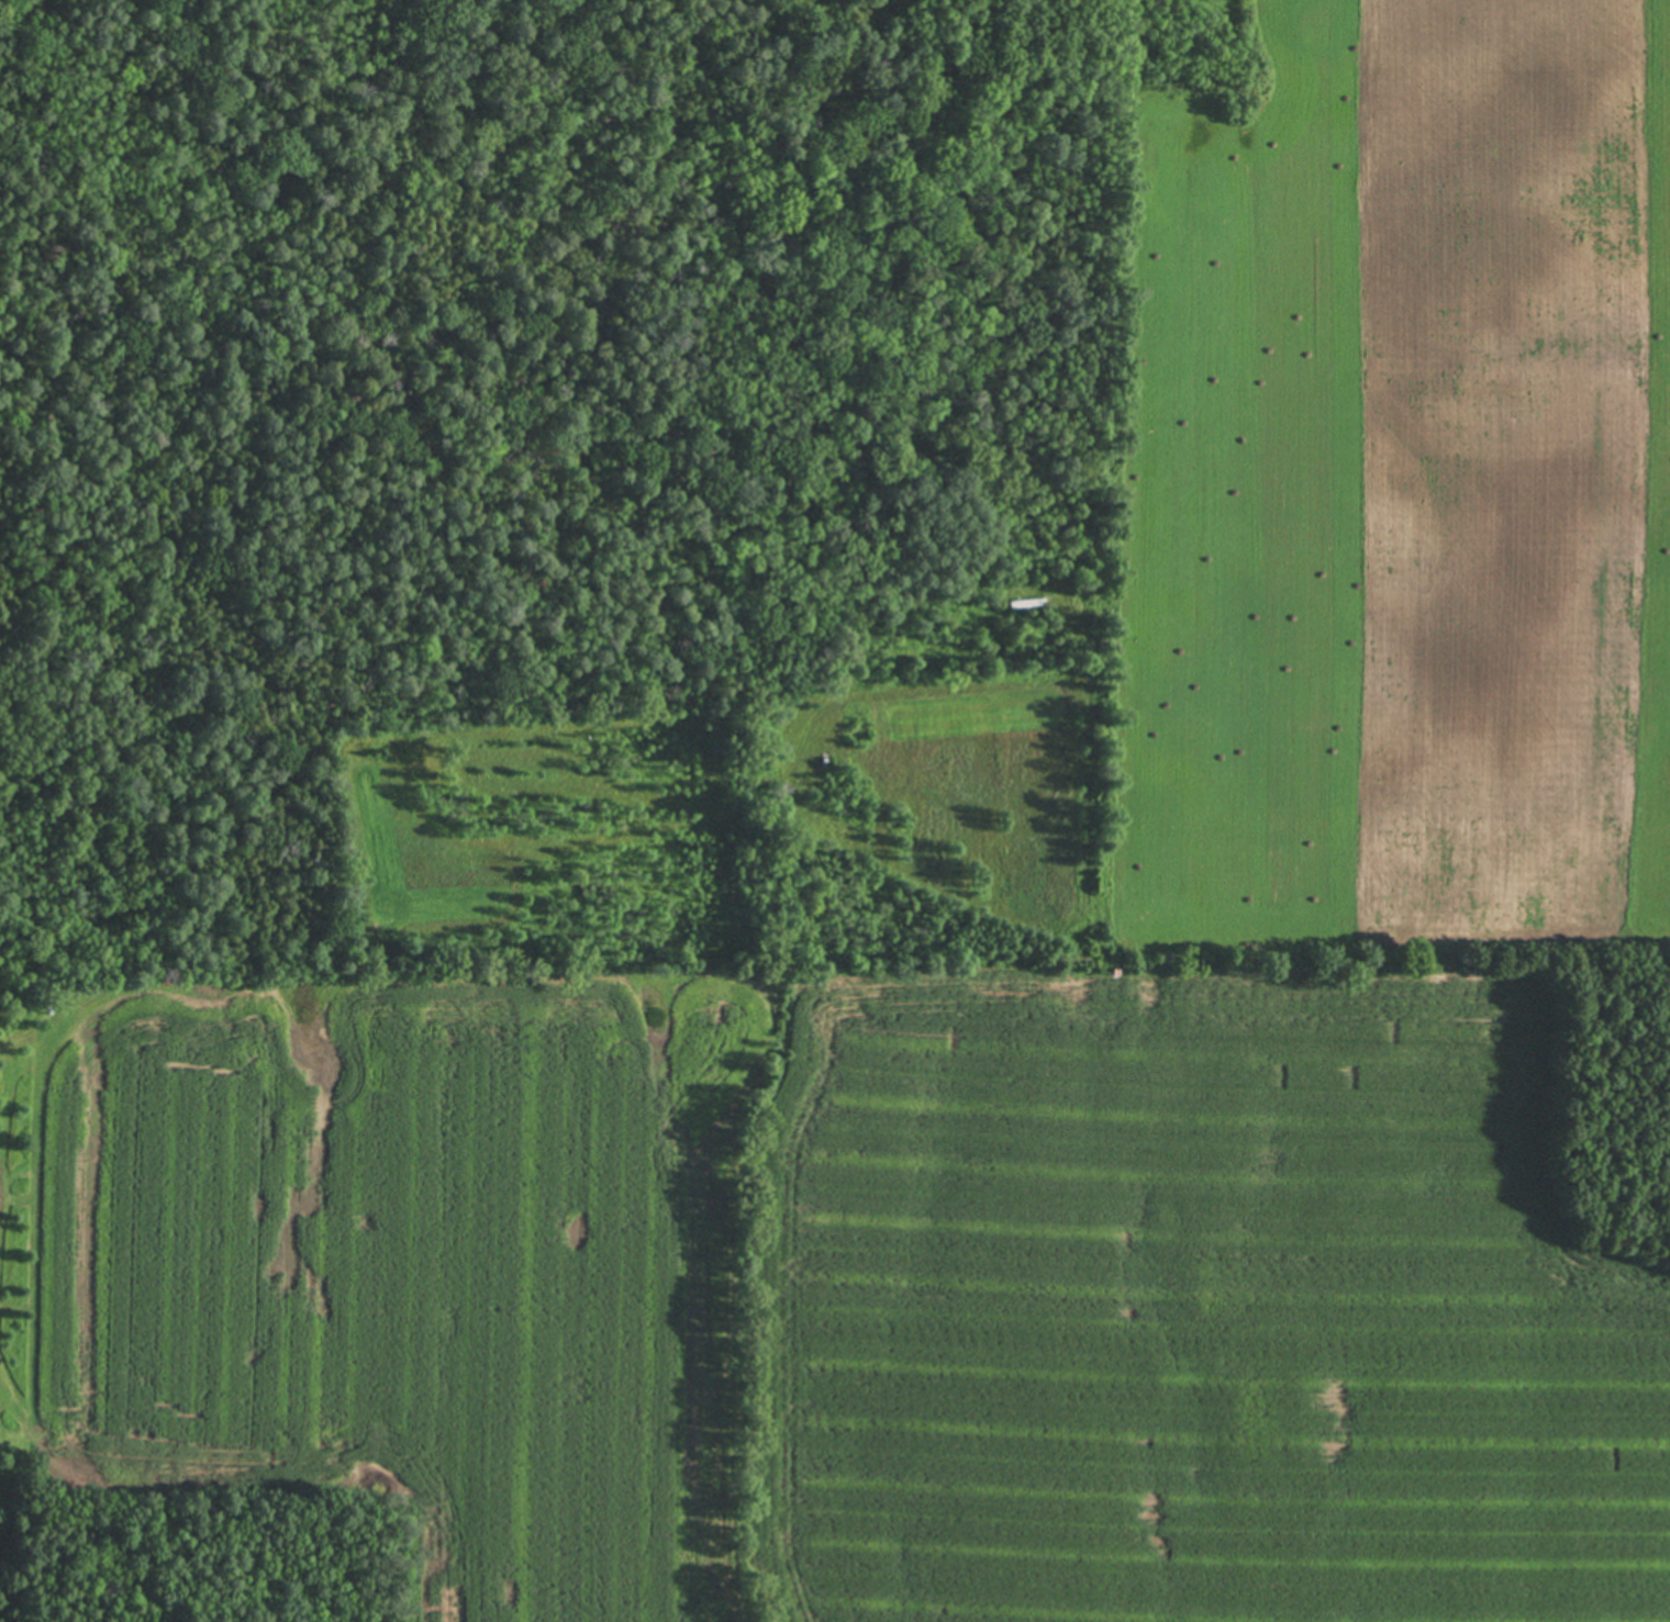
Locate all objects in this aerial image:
building: (1026, 603)

